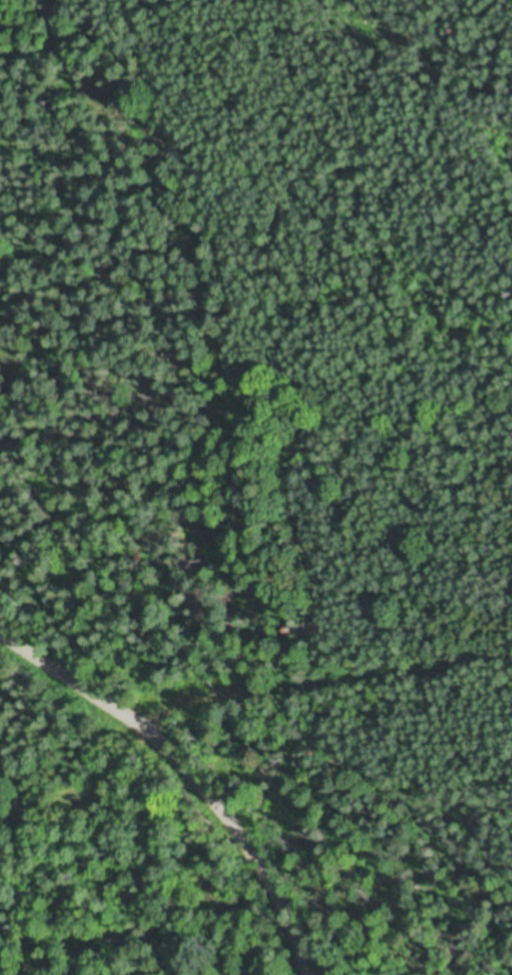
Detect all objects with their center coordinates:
road: (236, 692)
road: (183, 774)

